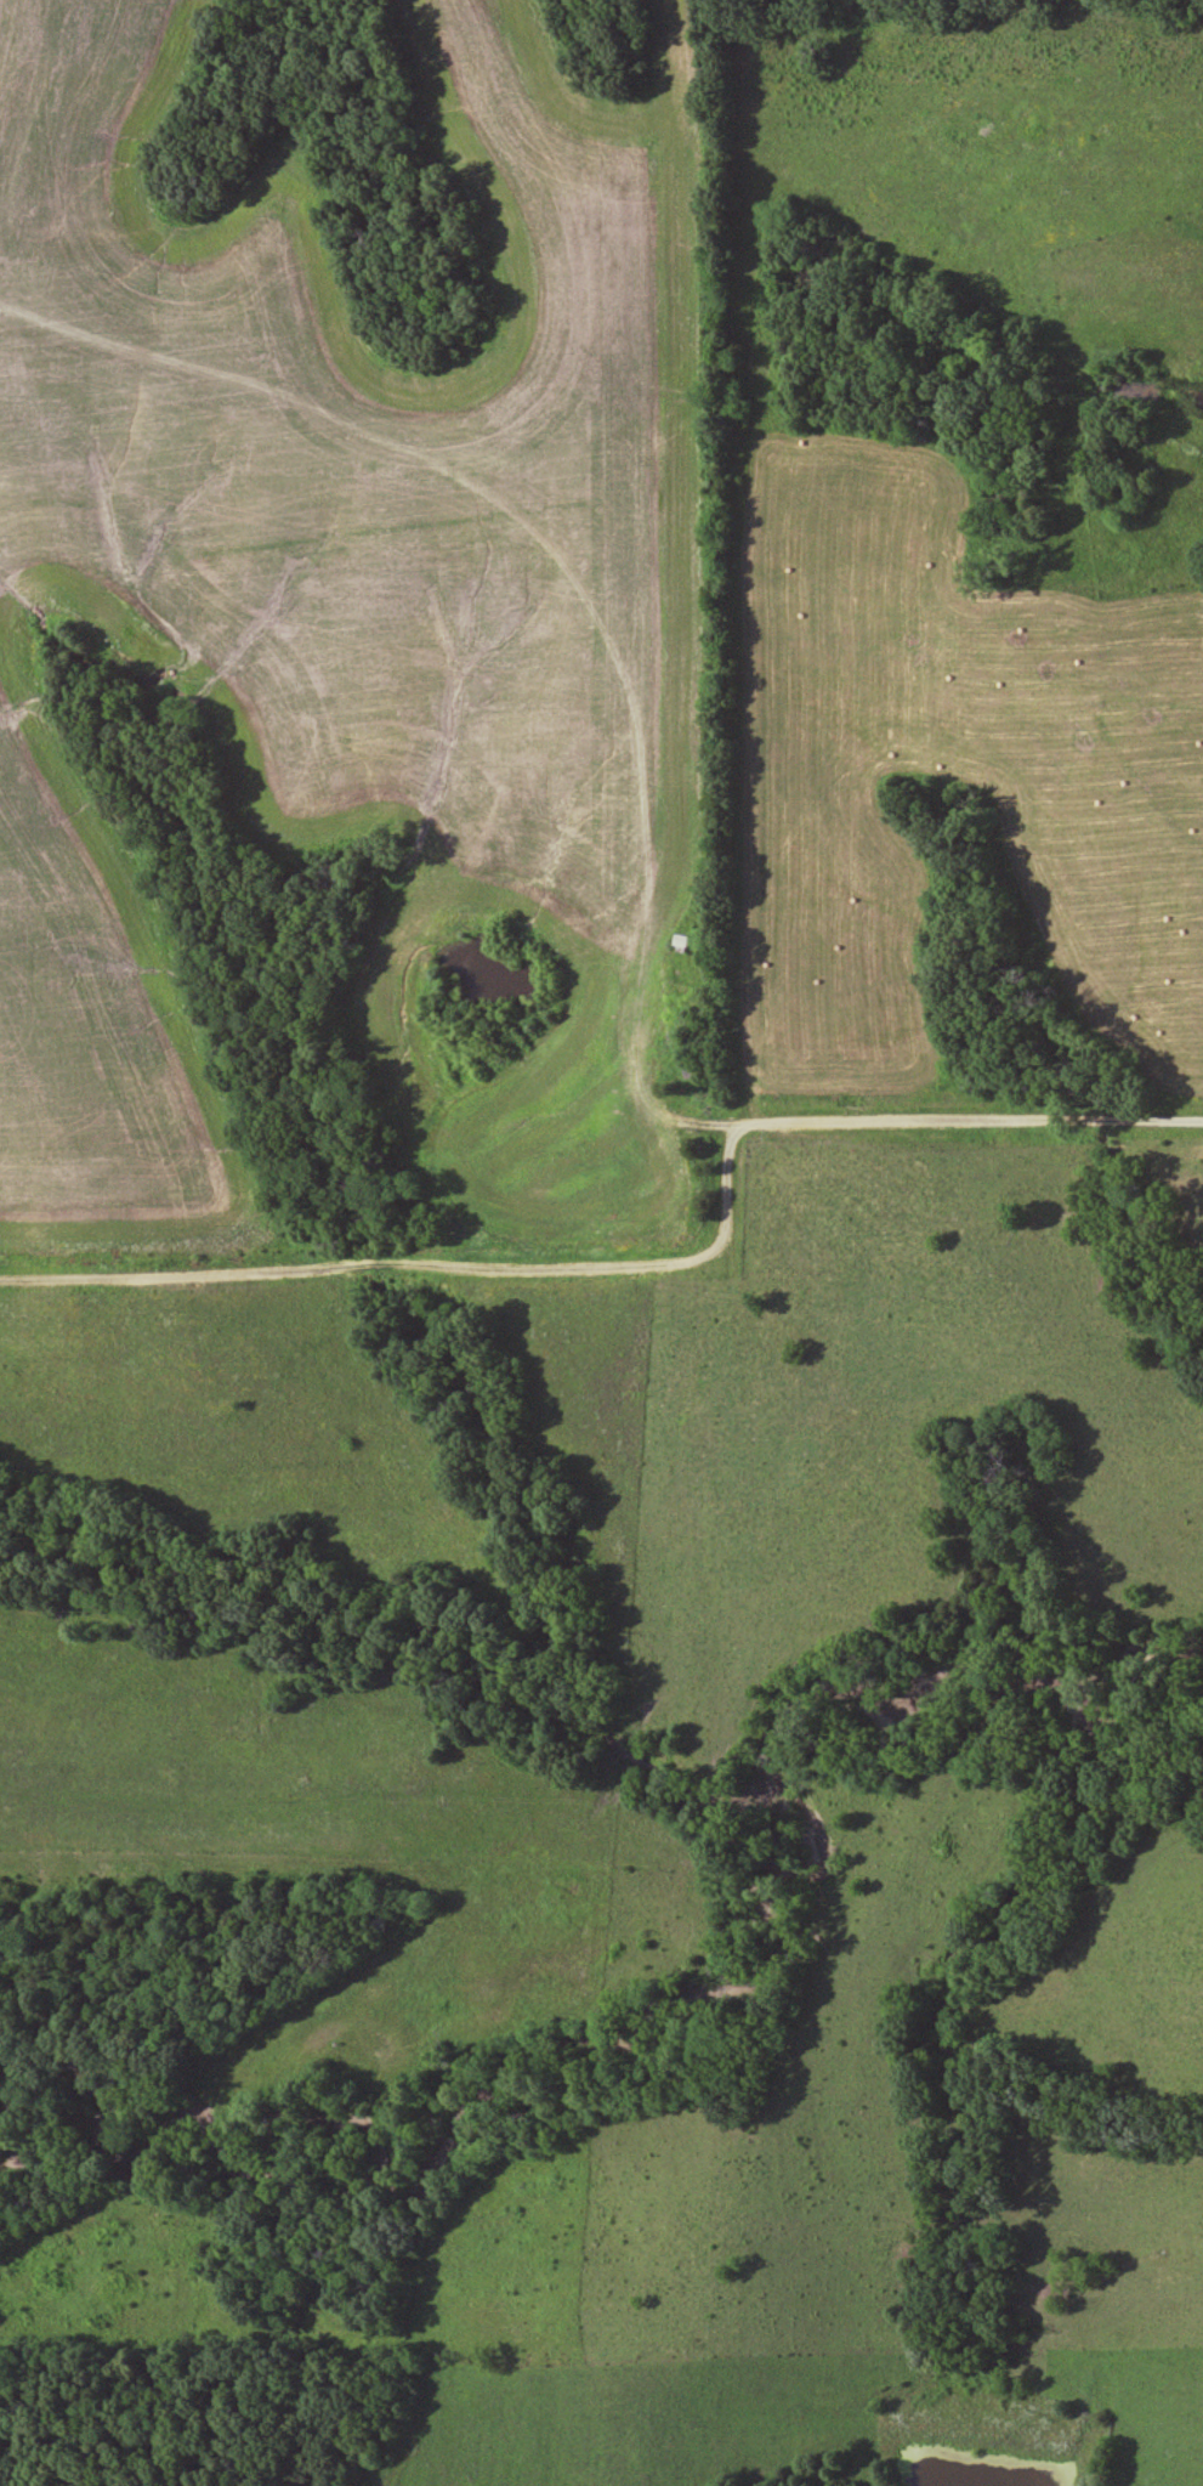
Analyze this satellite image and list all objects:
building: (707, 1068)
road: (654, 1265)

